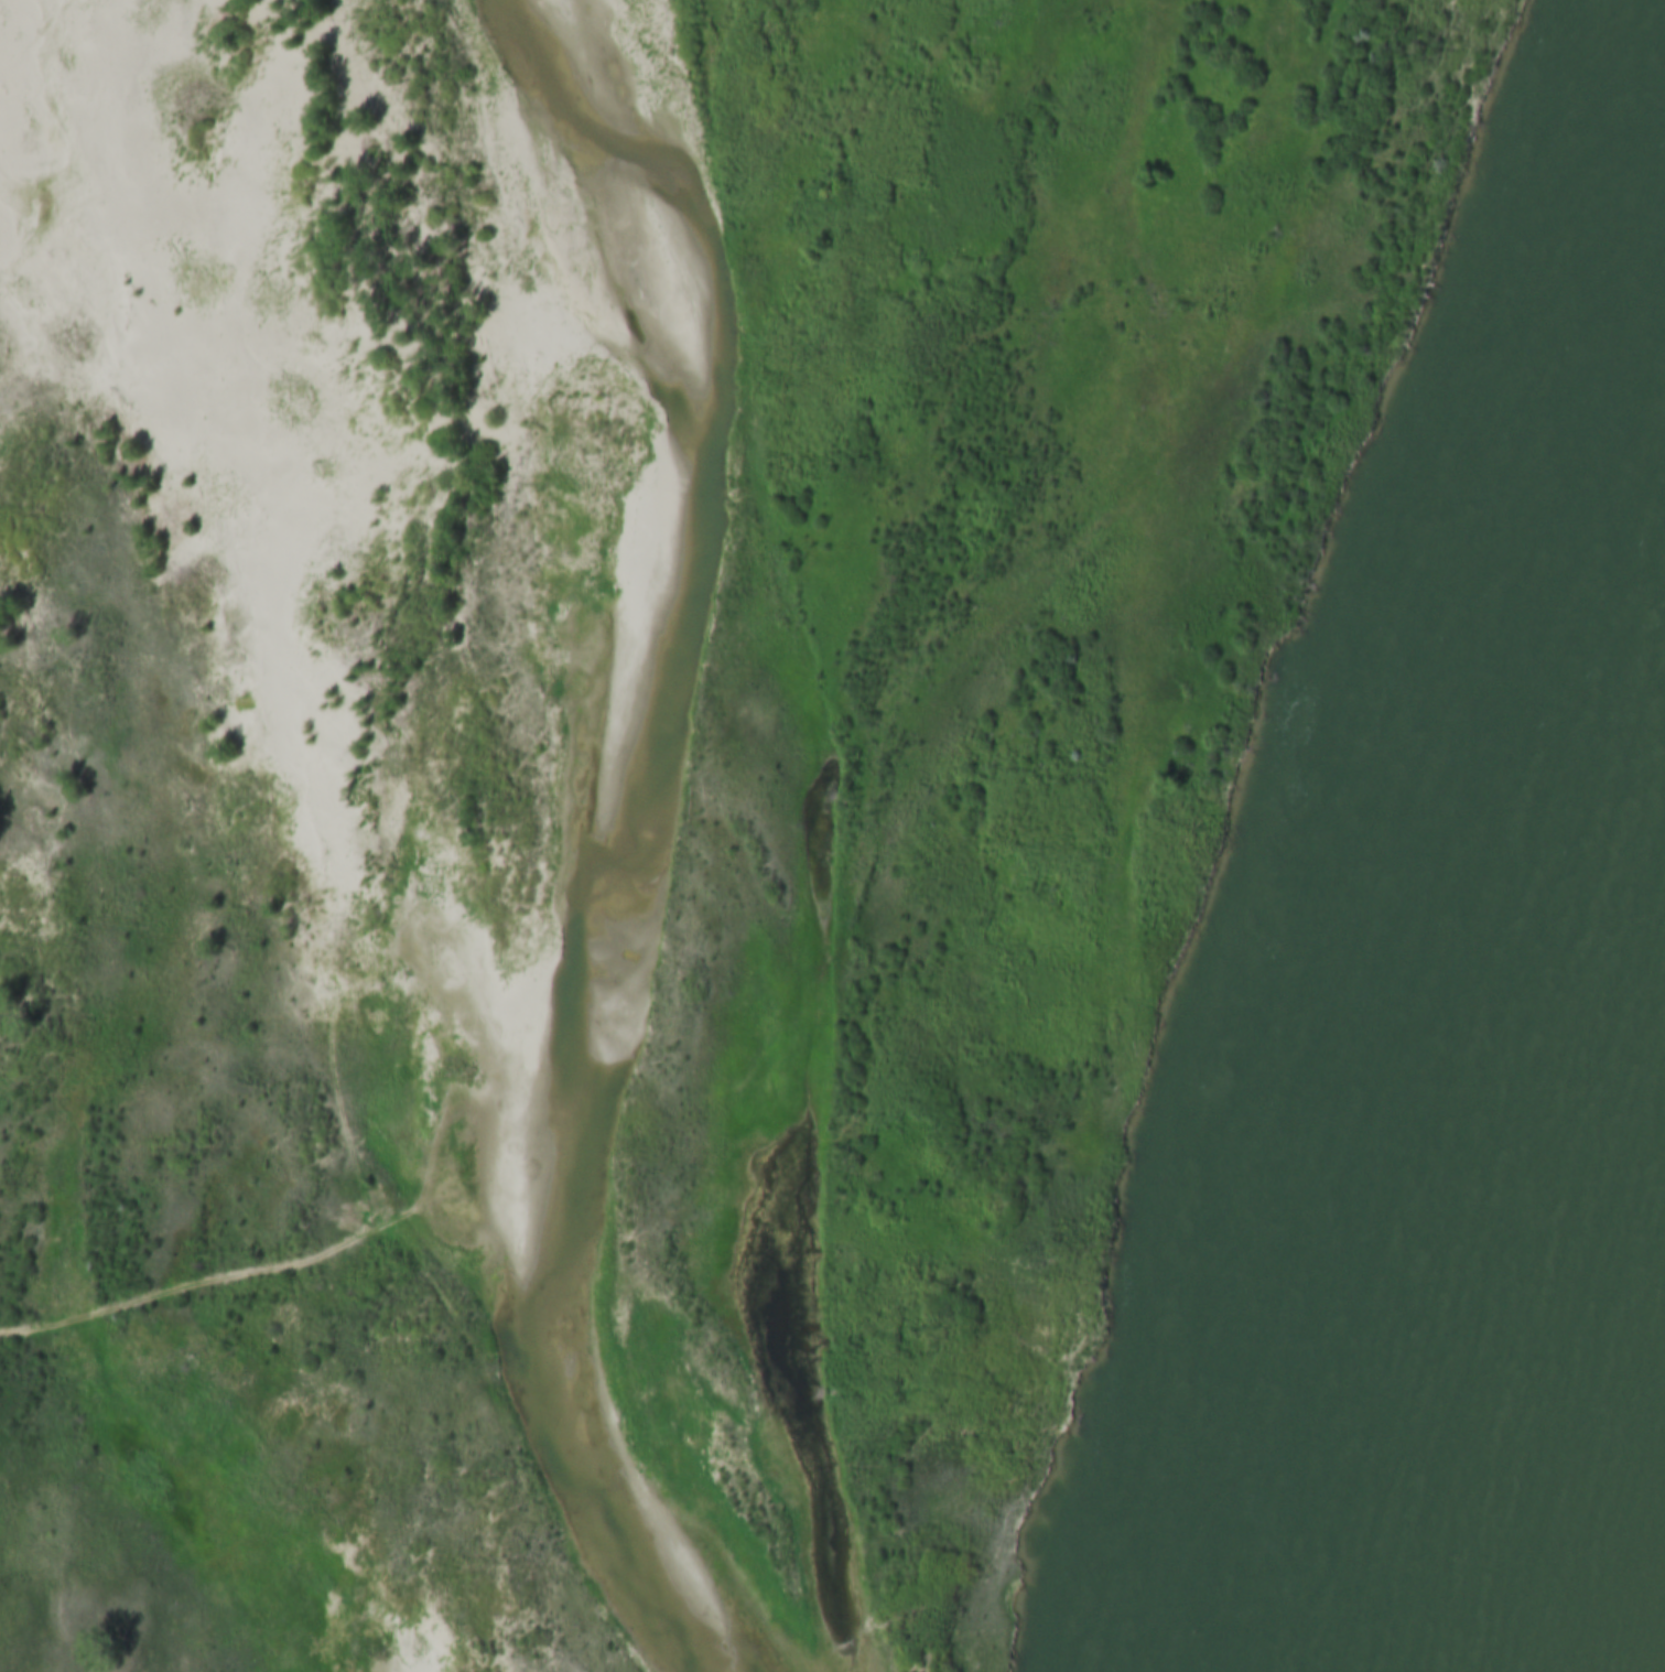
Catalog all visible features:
river: (1630, 1374)

